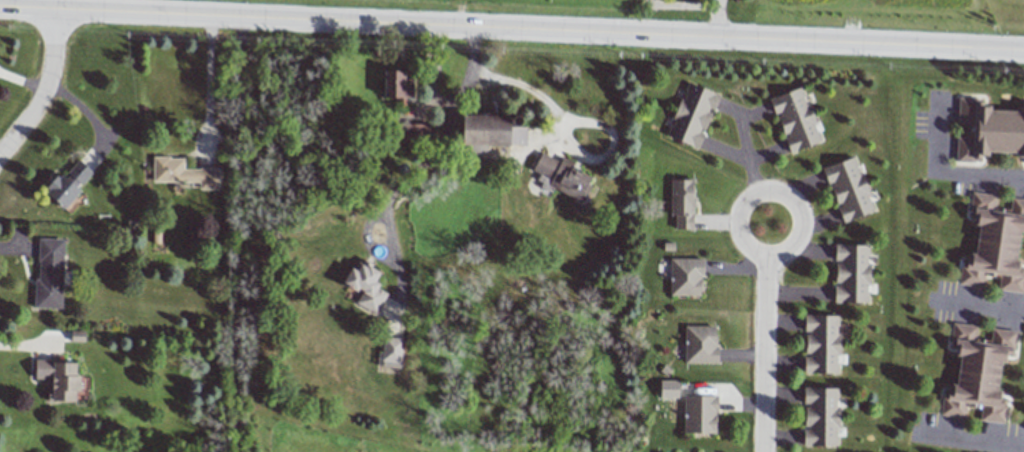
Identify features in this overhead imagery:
road: (44, 8)
road: (714, 22)
road: (511, 35)
road: (206, 78)
building: (397, 85)
road: (48, 92)
road: (532, 94)
building: (692, 115)
building: (794, 119)
building: (988, 130)
building: (489, 133)
building: (413, 134)
road: (747, 155)
road: (424, 158)
road: (942, 170)
building: (183, 173)
building: (561, 177)
building: (68, 183)
building: (847, 188)
building: (681, 203)
road: (236, 237)
building: (995, 244)
road: (783, 254)
building: (851, 273)
building: (49, 274)
building: (685, 277)
building: (365, 286)
road: (976, 304)
building: (820, 343)
building: (700, 344)
building: (390, 352)
road: (765, 355)
building: (978, 373)
building: (58, 379)
building: (668, 388)
building: (699, 414)
building: (820, 416)
road: (969, 438)

